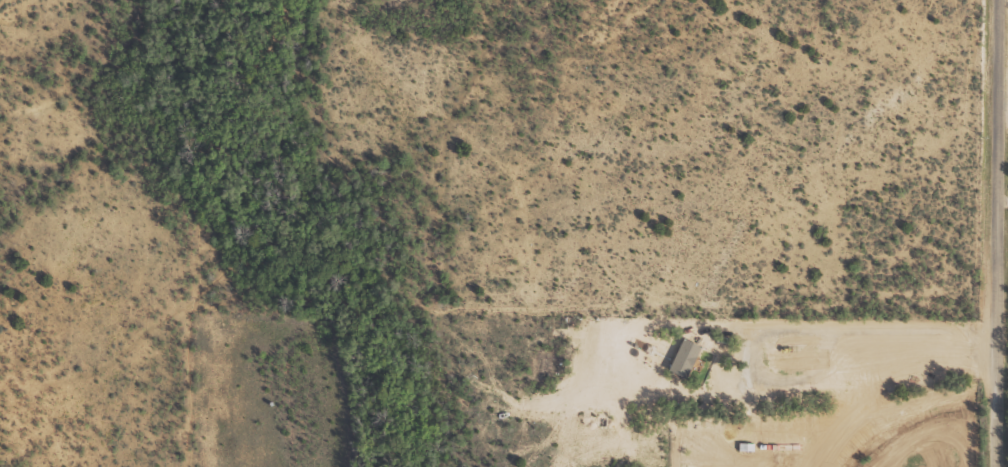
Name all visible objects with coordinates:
road: (1002, 200)
road: (996, 233)
building: (687, 356)
building: (748, 446)

